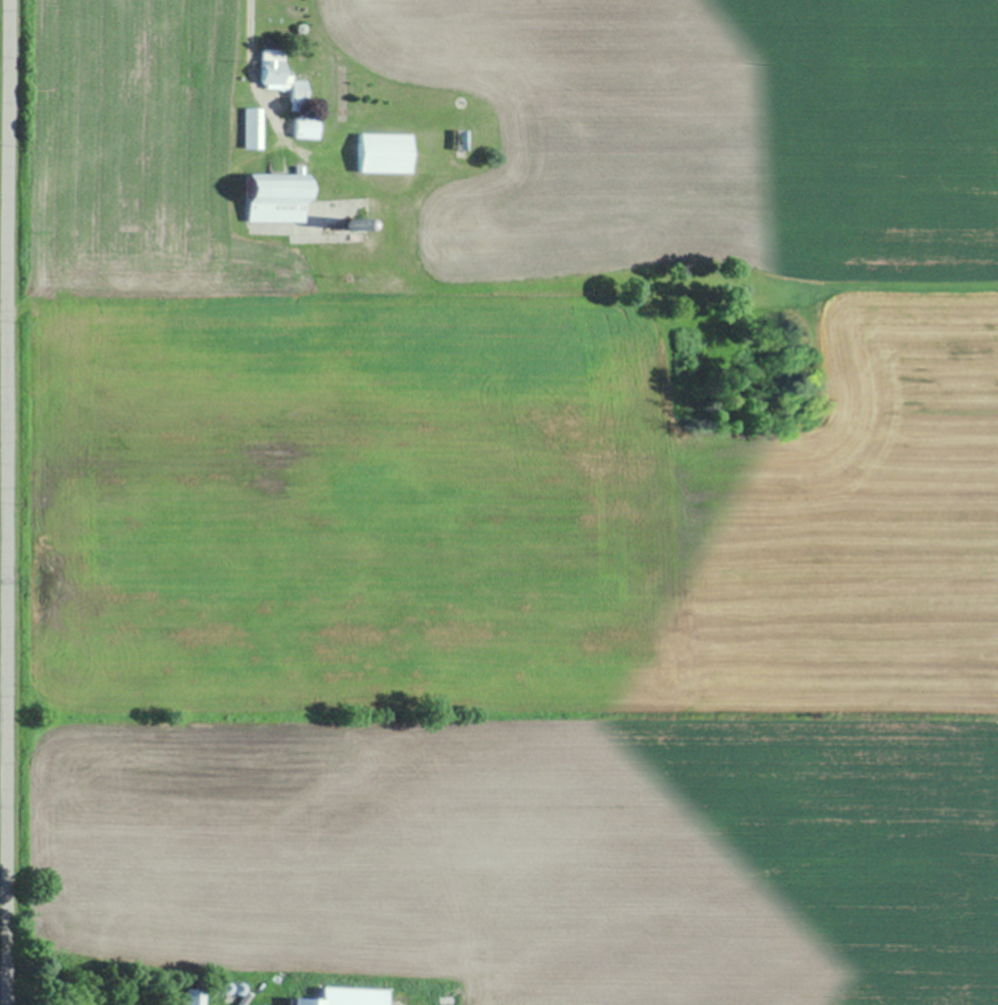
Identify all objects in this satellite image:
road: (245, 68)
building: (273, 74)
building: (250, 129)
building: (380, 153)
road: (8, 502)
building: (190, 997)
building: (341, 997)

